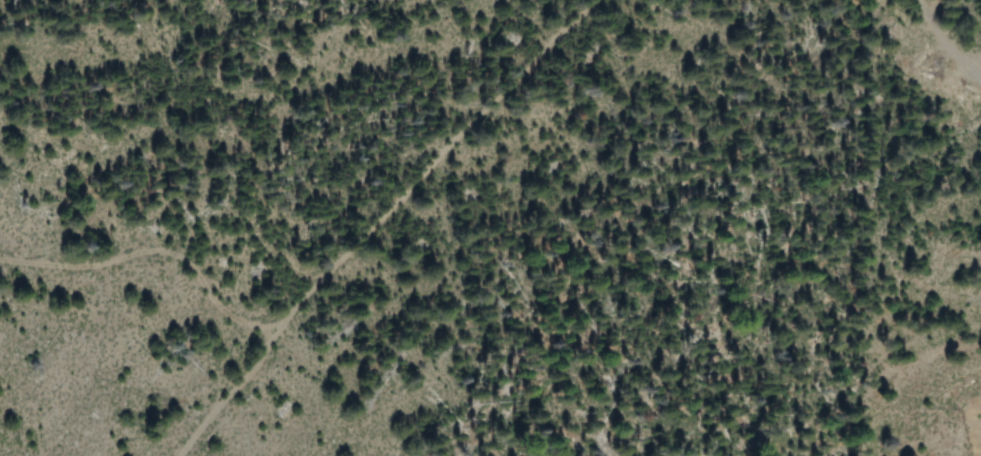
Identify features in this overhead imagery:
building: (957, 97)

